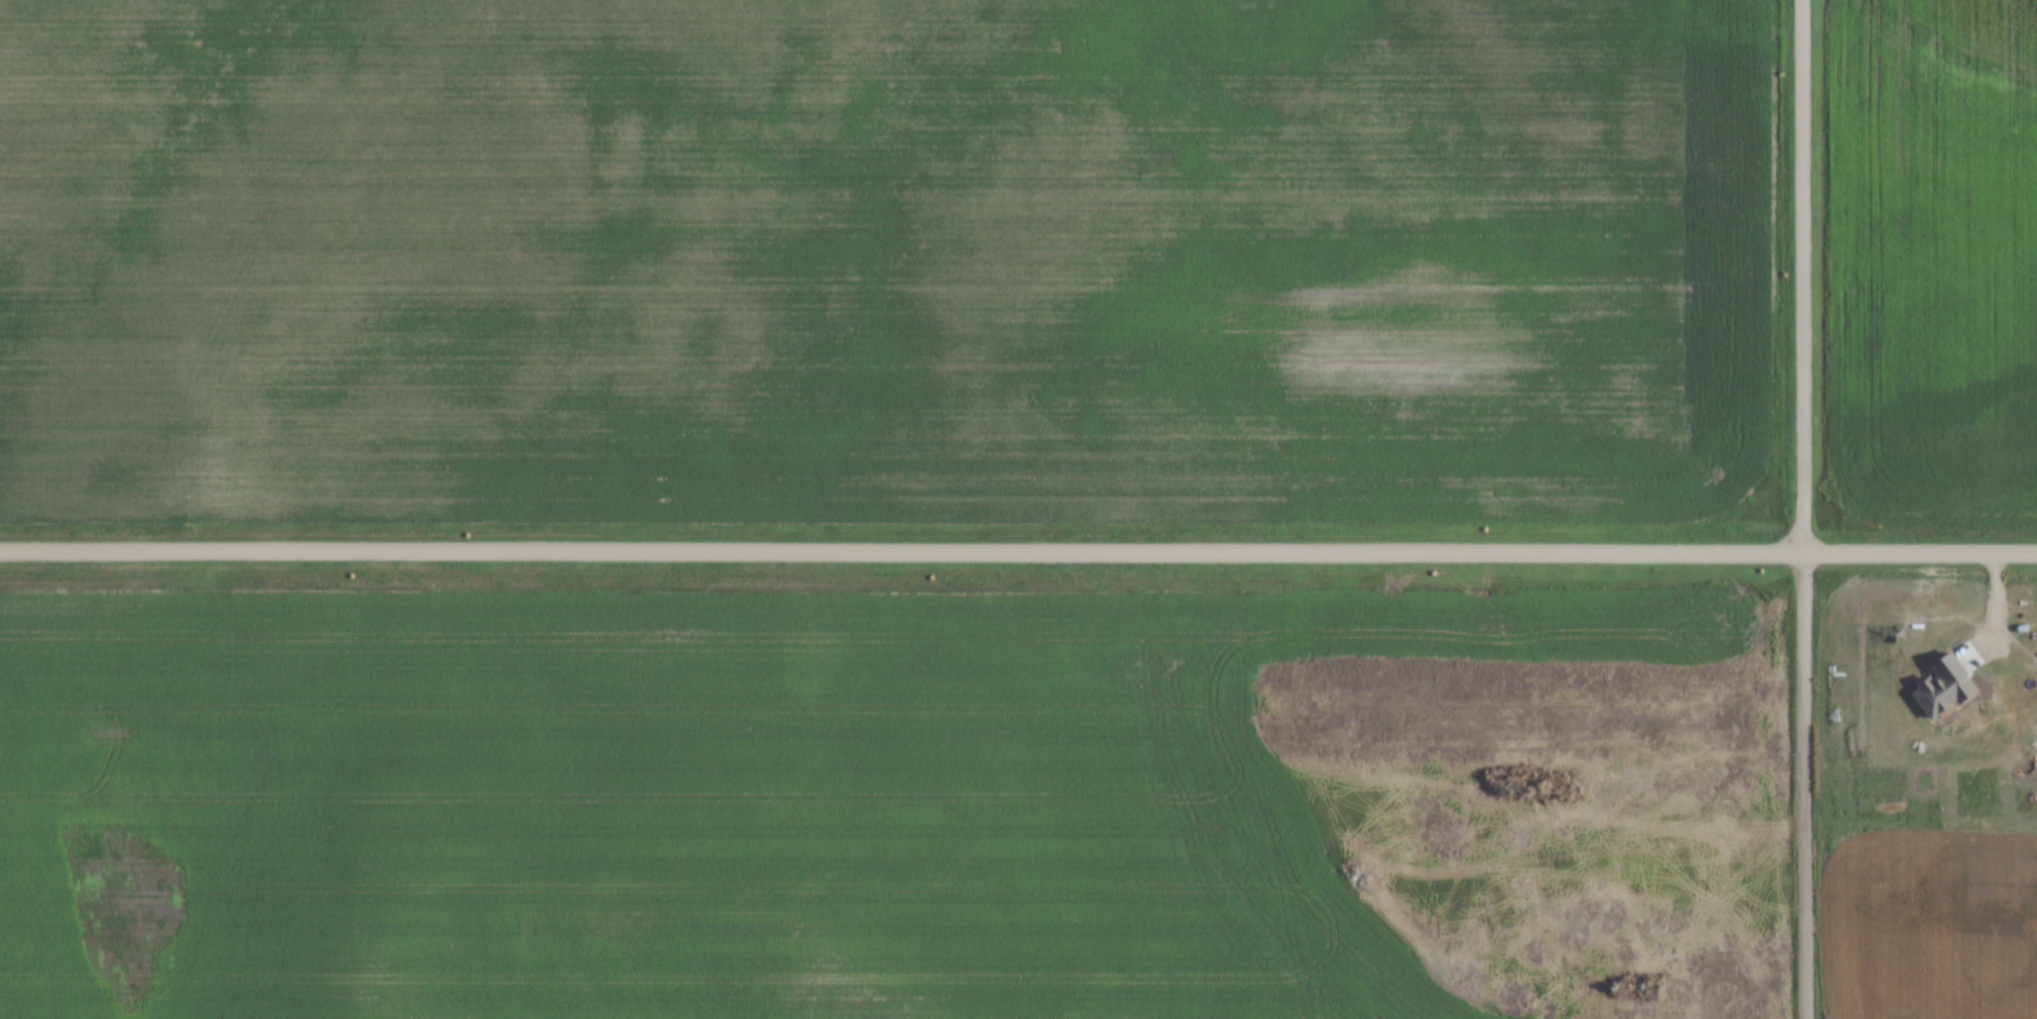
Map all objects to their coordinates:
road: (1803, 276)
road: (1018, 553)
road: (1805, 785)

